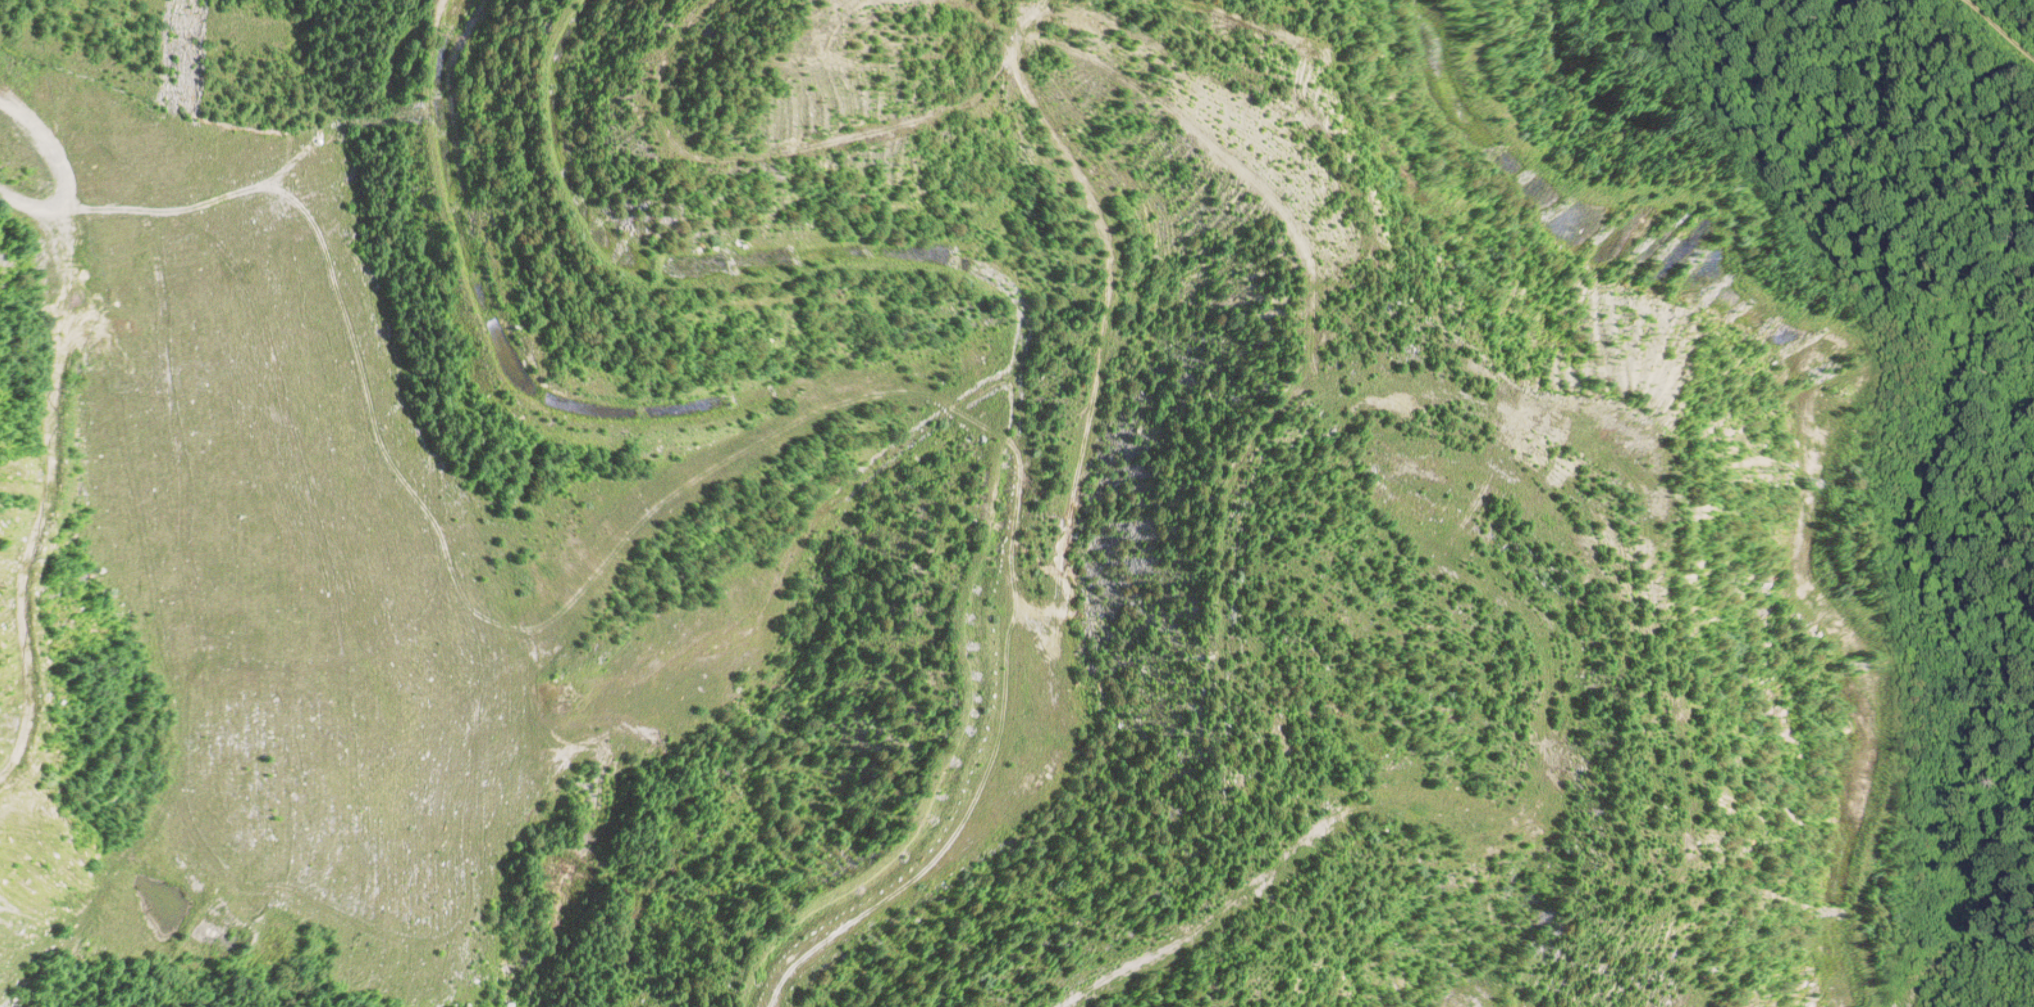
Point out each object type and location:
building: (832, 4)
quarry: (1017, 503)

